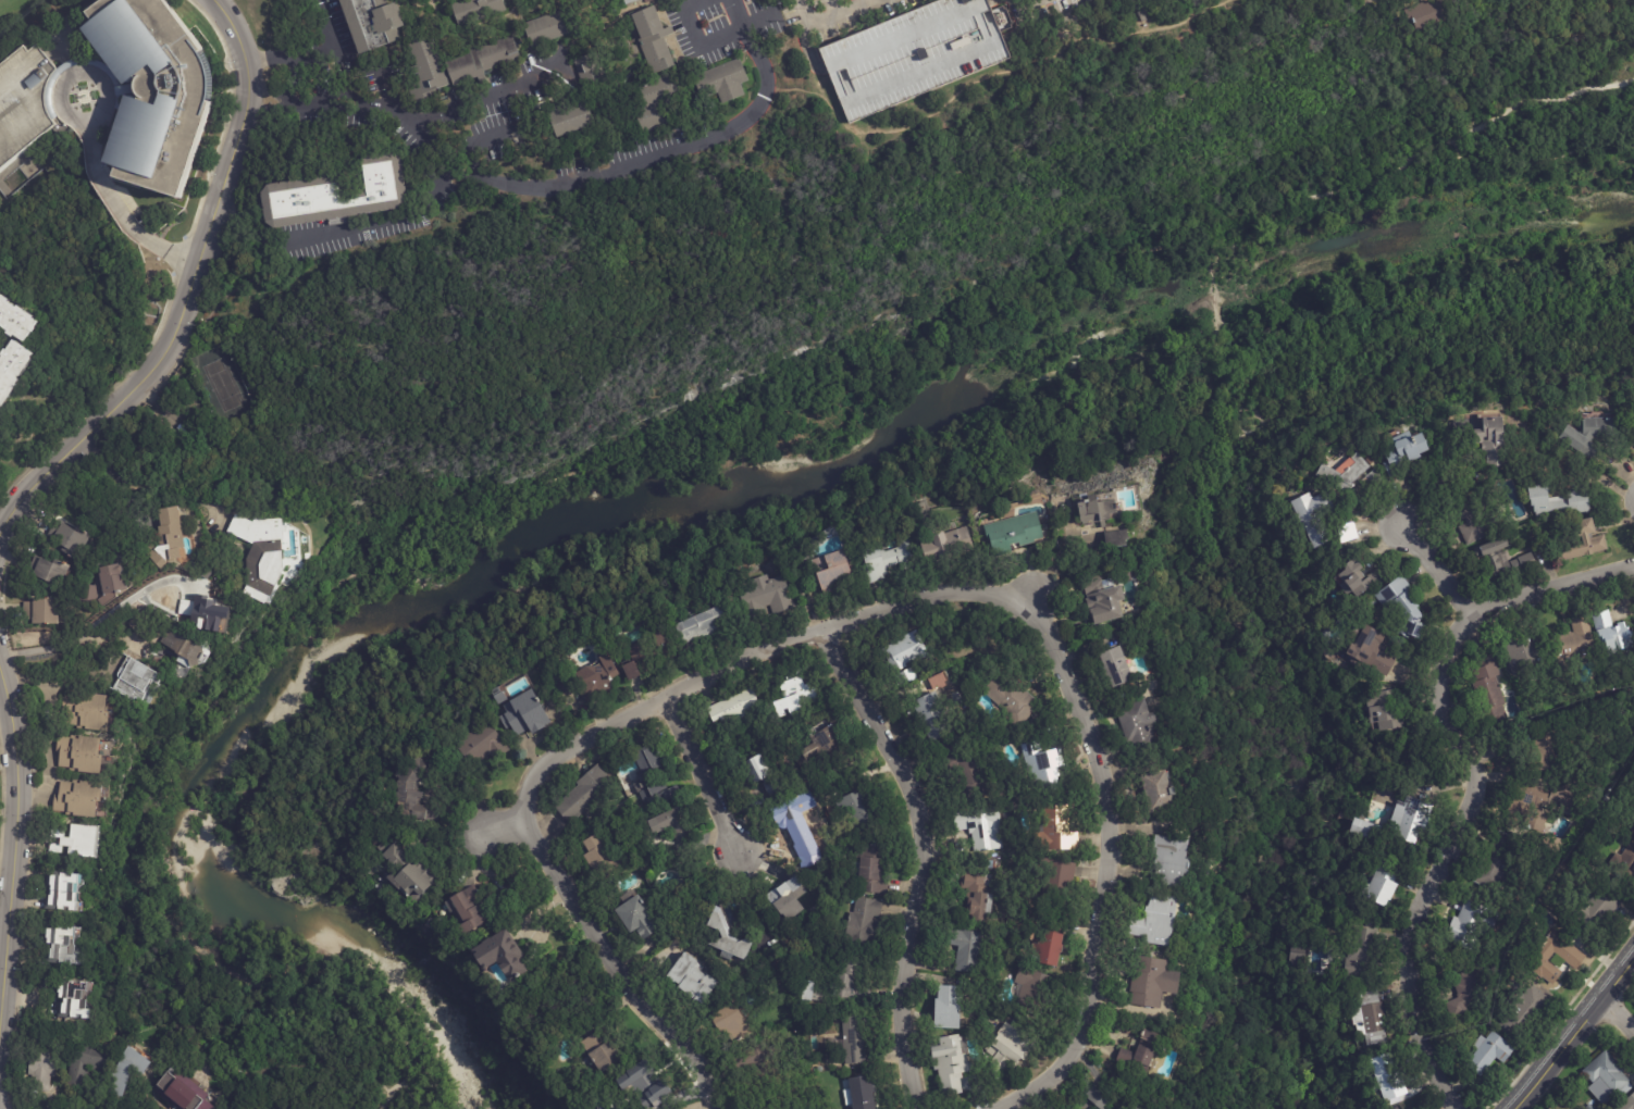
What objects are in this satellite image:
building: (1166, 0)
building: (330, 1)
building: (628, 1)
road: (1022, 4)
road: (831, 7)
building: (476, 11)
building: (1433, 12)
road: (827, 15)
building: (1002, 18)
building: (371, 23)
building: (550, 27)
park: (1620, 33)
road: (694, 36)
road: (329, 37)
building: (654, 40)
road: (288, 55)
building: (914, 55)
parking garage: (914, 55)
building: (456, 65)
road: (78, 71)
building: (590, 71)
building: (722, 82)
building: (120, 92)
road: (488, 94)
road: (300, 102)
building: (656, 102)
road: (362, 107)
building: (571, 119)
road: (488, 135)
road: (590, 175)
building: (334, 196)
road: (120, 210)
road: (343, 227)
road: (187, 288)
building: (15, 319)
building: (12, 367)
building: (1593, 436)
building: (1485, 439)
building: (1406, 453)
road: (666, 459)
park: (879, 462)
building: (1346, 472)
building: (1559, 503)
building: (1097, 509)
building: (1316, 515)
building: (1476, 521)
building: (1011, 529)
building: (1350, 529)
building: (168, 535)
building: (1113, 536)
building: (70, 537)
building: (949, 541)
building: (1581, 544)
building: (262, 553)
building: (888, 559)
building: (1502, 560)
building: (50, 570)
road: (1435, 570)
building: (832, 572)
building: (1127, 576)
building: (1360, 576)
building: (104, 581)
building: (767, 595)
building: (1100, 600)
building: (1400, 603)
building: (44, 609)
building: (207, 613)
building: (703, 625)
road: (91, 627)
building: (1608, 633)
building: (1573, 639)
building: (1367, 647)
building: (183, 651)
building: (903, 651)
building: (1526, 652)
building: (644, 653)
road: (752, 662)
building: (1117, 665)
building: (909, 674)
building: (593, 678)
building: (137, 680)
building: (1490, 691)
building: (793, 694)
building: (500, 697)
building: (1013, 699)
building: (734, 707)
building: (1390, 708)
building: (86, 710)
building: (524, 713)
building: (932, 717)
building: (1139, 722)
building: (481, 744)
building: (822, 746)
building: (1545, 750)
building: (79, 752)
building: (1041, 761)
building: (755, 768)
building: (963, 770)
road: (706, 774)
building: (654, 780)
road: (1473, 782)
building: (412, 788)
building: (776, 788)
building: (1160, 790)
building: (585, 793)
building: (75, 797)
building: (1590, 801)
building: (1540, 803)
building: (861, 809)
building: (1408, 817)
building: (796, 822)
building: (672, 823)
road: (499, 824)
building: (980, 826)
building: (1363, 828)
building: (1056, 830)
road: (14, 837)
building: (76, 842)
building: (382, 846)
building: (604, 855)
road: (923, 859)
building: (1173, 859)
building: (1625, 863)
building: (1497, 869)
building: (871, 870)
road: (1104, 871)
building: (410, 876)
building: (1057, 879)
building: (899, 883)
building: (1379, 883)
building: (64, 892)
building: (978, 895)
building: (787, 899)
building: (471, 908)
building: (1597, 909)
building: (637, 918)
building: (1158, 920)
building: (865, 923)
building: (1468, 923)
building: (728, 937)
building: (1049, 944)
building: (58, 945)
building: (966, 949)
building: (1299, 954)
building: (502, 955)
building: (1364, 956)
building: (1555, 957)
road: (617, 964)
building: (772, 964)
building: (694, 981)
building: (1154, 982)
building: (844, 984)
building: (1466, 988)
building: (1032, 989)
building: (806, 990)
building: (71, 997)
building: (949, 1008)
building: (1525, 1012)
building: (839, 1013)
road: (1619, 1017)
building: (1373, 1018)
building: (731, 1023)
road: (1575, 1034)
building: (854, 1041)
building: (1006, 1048)
building: (603, 1052)
building: (1141, 1052)
building: (1490, 1052)
building: (86, 1060)
building: (753, 1061)
building: (951, 1061)
building: (41, 1064)
building: (127, 1070)
building: (1602, 1076)
building: (1389, 1077)
building: (642, 1087)
building: (182, 1092)
building: (861, 1094)
building: (1103, 1098)
building: (1625, 1101)
building: (776, 1107)
building: (1590, 1107)
building: (1135, 1108)

